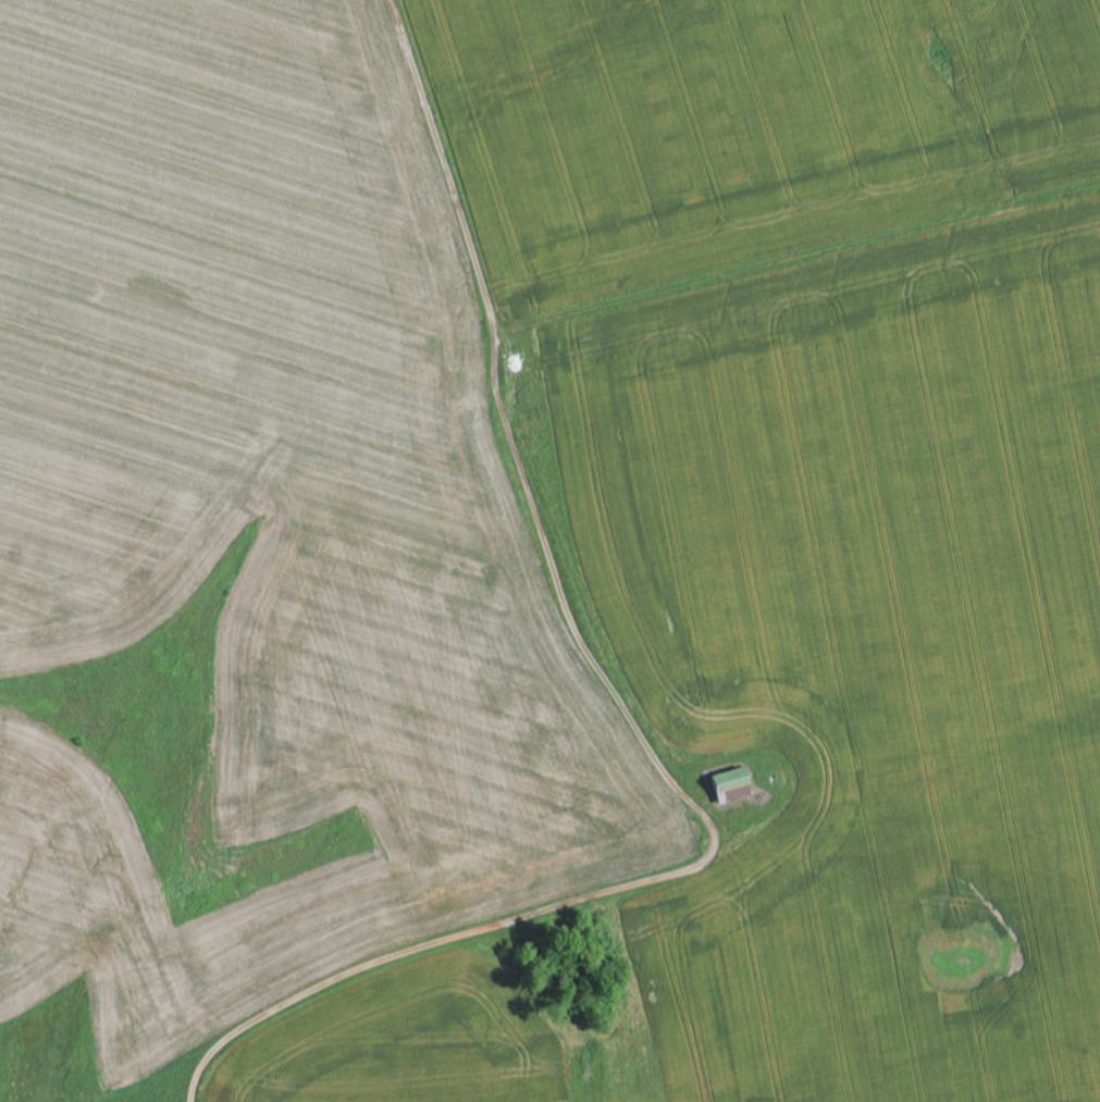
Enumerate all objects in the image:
road: (647, 714)
building: (727, 788)

